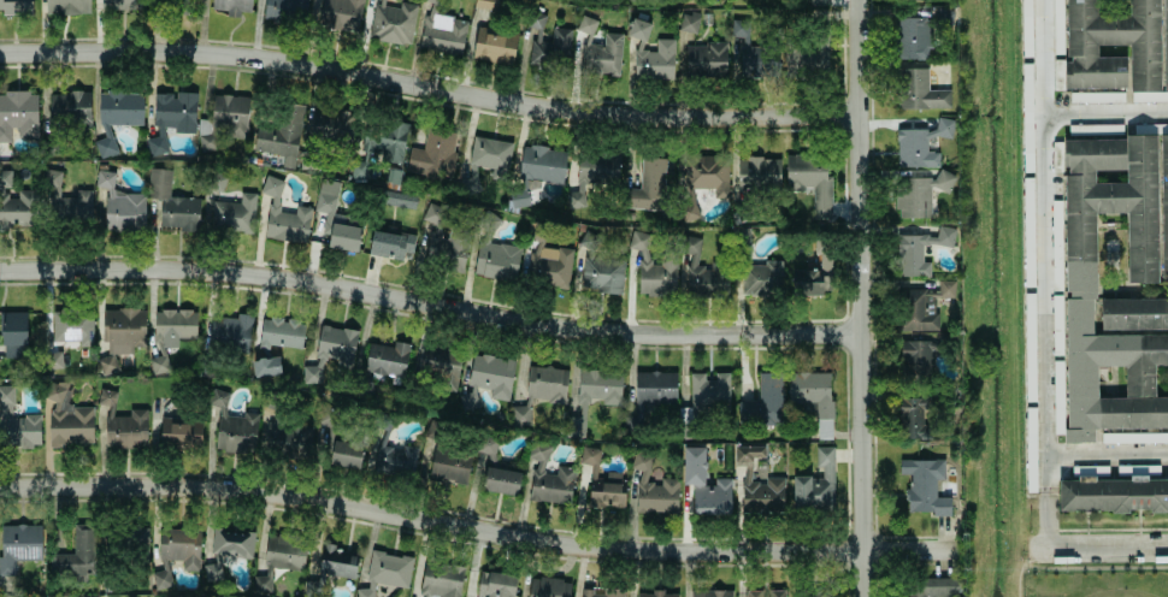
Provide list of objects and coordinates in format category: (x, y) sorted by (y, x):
building: (815, 1)
building: (119, 4)
building: (16, 6)
building: (66, 6)
building: (176, 6)
building: (231, 6)
building: (285, 10)
building: (340, 13)
building: (391, 22)
building: (686, 22)
building: (1026, 26)
building: (638, 29)
building: (443, 34)
building: (560, 35)
building: (912, 37)
building: (494, 45)
building: (598, 49)
building: (1076, 49)
building: (816, 54)
building: (704, 59)
building: (654, 60)
road: (430, 88)
building: (916, 89)
building: (77, 107)
building: (119, 107)
road: (1104, 107)
building: (18, 113)
building: (229, 114)
building: (170, 117)
building: (331, 126)
building: (1105, 128)
building: (281, 135)
building: (384, 140)
building: (919, 144)
building: (104, 146)
building: (432, 153)
building: (307, 159)
building: (485, 159)
building: (358, 169)
building: (757, 171)
building: (707, 172)
building: (591, 175)
building: (5, 178)
building: (104, 178)
building: (809, 178)
building: (214, 182)
building: (648, 185)
building: (919, 194)
building: (397, 199)
building: (65, 201)
building: (172, 202)
building: (124, 209)
building: (234, 214)
building: (283, 214)
building: (335, 218)
building: (1028, 231)
road: (1040, 243)
building: (390, 244)
building: (446, 247)
building: (919, 249)
building: (495, 259)
building: (549, 262)
building: (598, 266)
building: (653, 267)
building: (701, 272)
building: (804, 273)
building: (761, 278)
building: (945, 288)
road: (862, 298)
road: (430, 305)
building: (918, 309)
building: (1134, 313)
building: (173, 323)
building: (71, 325)
building: (13, 327)
building: (120, 329)
building: (230, 332)
building: (281, 332)
building: (336, 343)
building: (1028, 348)
building: (387, 357)
building: (915, 359)
building: (441, 362)
building: (106, 363)
building: (265, 366)
building: (1111, 377)
building: (488, 378)
building: (654, 386)
building: (708, 389)
building: (539, 390)
building: (592, 395)
building: (812, 397)
building: (1057, 397)
building: (763, 401)
building: (66, 416)
building: (16, 422)
building: (122, 424)
building: (232, 426)
building: (179, 433)
building: (287, 437)
building: (1134, 437)
building: (486, 447)
building: (1030, 450)
building: (346, 454)
road: (1105, 455)
building: (395, 459)
building: (449, 467)
building: (548, 479)
building: (500, 480)
building: (757, 480)
building: (601, 481)
building: (815, 484)
building: (704, 485)
building: (922, 485)
building: (653, 486)
building: (1113, 495)
road: (1043, 520)
road: (476, 530)
building: (135, 539)
building: (18, 544)
building: (179, 545)
building: (226, 550)
building: (77, 551)
building: (284, 551)
road: (1096, 551)
road: (1075, 567)
building: (331, 568)
building: (385, 572)
building: (160, 575)
building: (441, 579)
building: (495, 584)
building: (927, 586)
building: (598, 592)
building: (763, 592)
building: (656, 593)
building: (709, 593)

